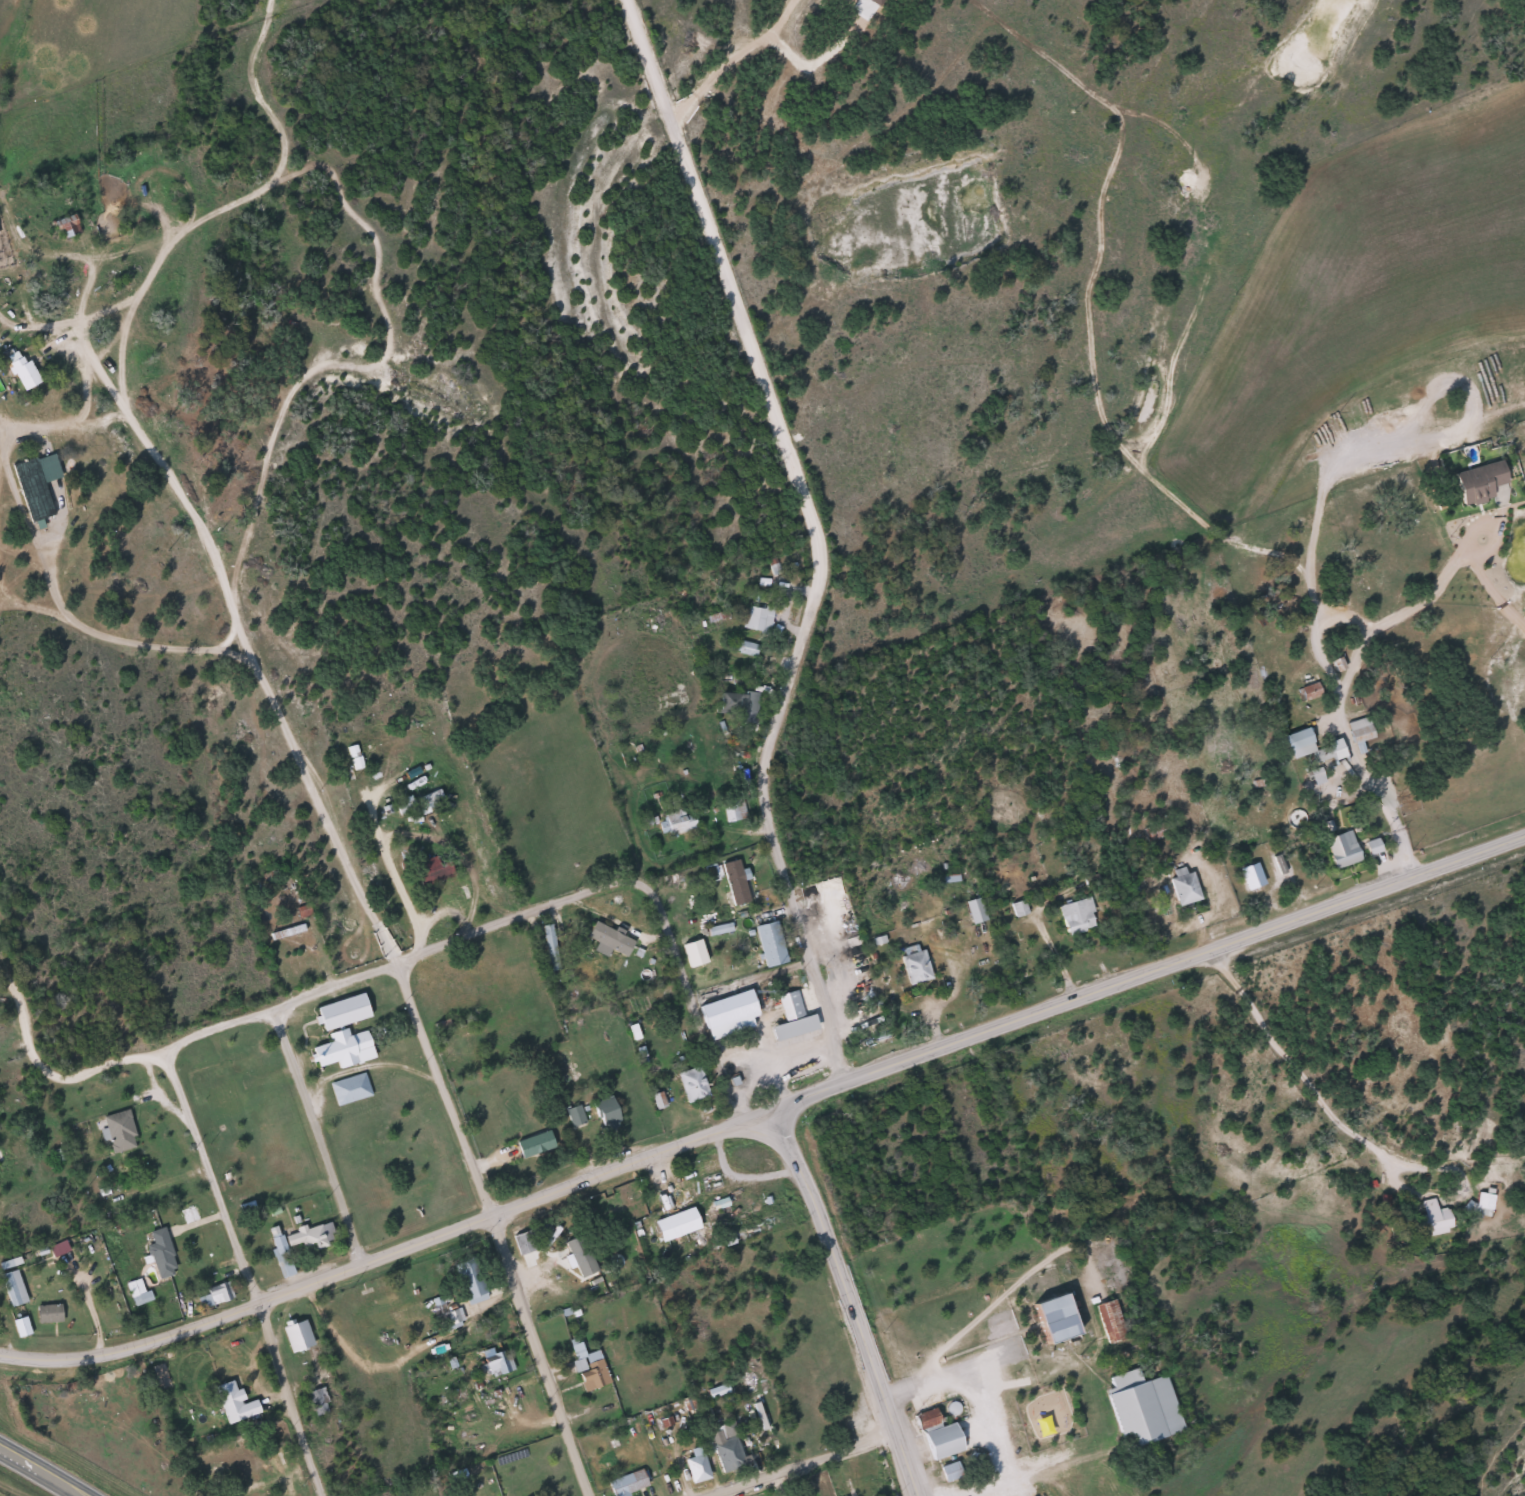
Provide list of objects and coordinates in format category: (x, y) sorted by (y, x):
building: (876, 2)
road: (62, 254)
road: (13, 325)
building: (21, 371)
road: (85, 392)
road: (6, 421)
road: (54, 425)
building: (35, 484)
road: (813, 535)
road: (1430, 592)
road: (5, 600)
building: (758, 618)
road: (132, 643)
building: (746, 648)
building: (1309, 691)
building: (738, 705)
road: (1341, 723)
building: (1360, 729)
building: (1297, 743)
building: (1327, 752)
building: (1316, 776)
building: (428, 800)
building: (405, 804)
building: (733, 810)
building: (675, 822)
building: (1372, 846)
building: (1341, 849)
building: (1250, 875)
building: (735, 881)
building: (1182, 886)
building: (1018, 908)
building: (302, 910)
building: (973, 910)
building: (1076, 915)
road: (374, 921)
building: (718, 929)
building: (286, 931)
building: (608, 939)
building: (769, 943)
building: (549, 947)
building: (692, 953)
road: (401, 964)
building: (913, 964)
road: (1142, 973)
road: (690, 998)
building: (789, 1005)
building: (340, 1012)
building: (726, 1014)
building: (792, 1027)
building: (341, 1049)
road: (805, 1060)
road: (760, 1063)
road: (1305, 1072)
road: (56, 1077)
building: (690, 1084)
building: (349, 1089)
building: (657, 1099)
building: (604, 1114)
building: (575, 1115)
building: (117, 1131)
road: (317, 1136)
building: (533, 1144)
road: (739, 1174)
road: (578, 1183)
building: (1479, 1204)
building: (1433, 1218)
building: (674, 1224)
building: (310, 1236)
building: (524, 1242)
building: (57, 1248)
building: (160, 1253)
building: (279, 1253)
building: (577, 1257)
road: (247, 1274)
building: (469, 1281)
building: (12, 1288)
building: (137, 1292)
building: (214, 1294)
road: (91, 1308)
building: (48, 1313)
building: (454, 1317)
building: (1051, 1319)
building: (1109, 1321)
building: (20, 1327)
building: (296, 1336)
building: (497, 1363)
building: (588, 1367)
building: (716, 1391)
building: (317, 1400)
building: (233, 1403)
building: (1141, 1408)
road: (980, 1412)
building: (926, 1420)
building: (941, 1441)
building: (726, 1448)
building: (695, 1465)
road: (805, 1465)
building: (949, 1471)
road: (41, 1472)
building: (626, 1483)

